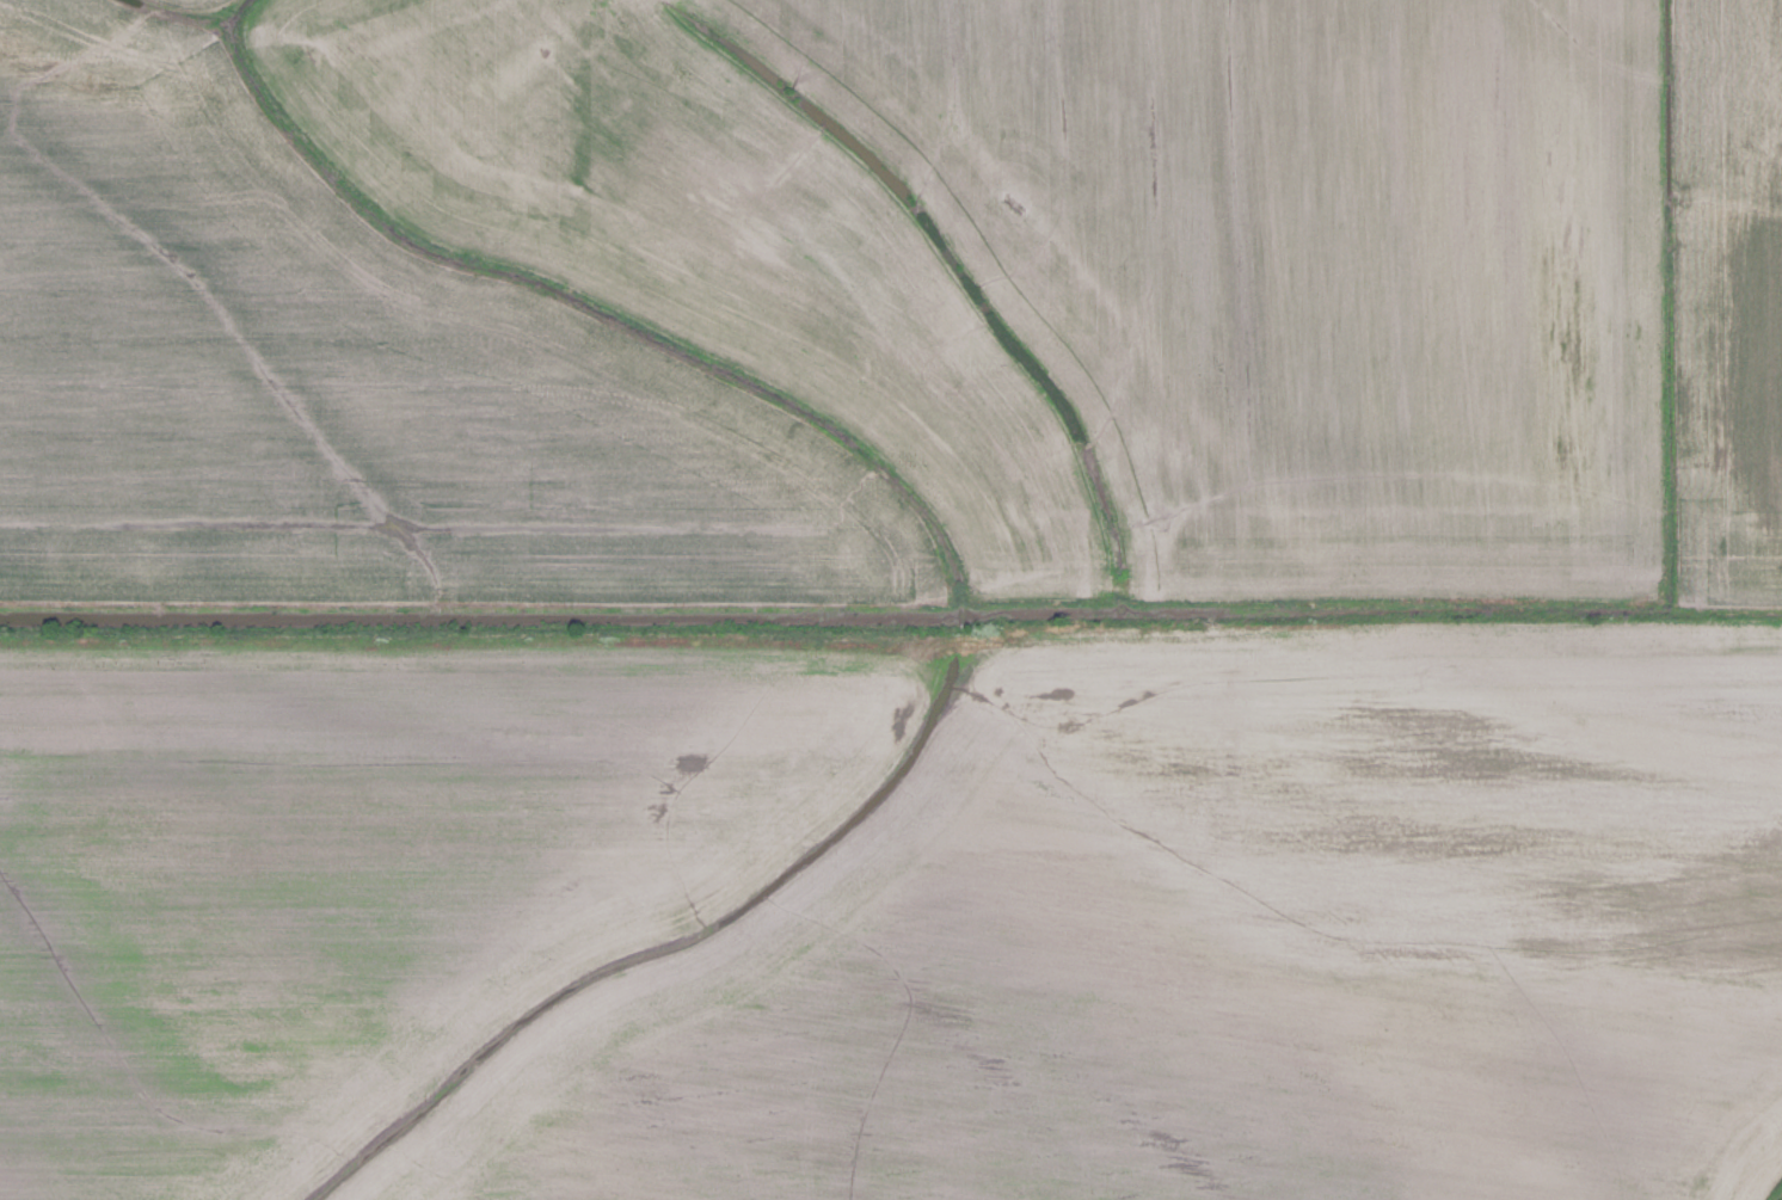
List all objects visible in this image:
road: (891, 658)

